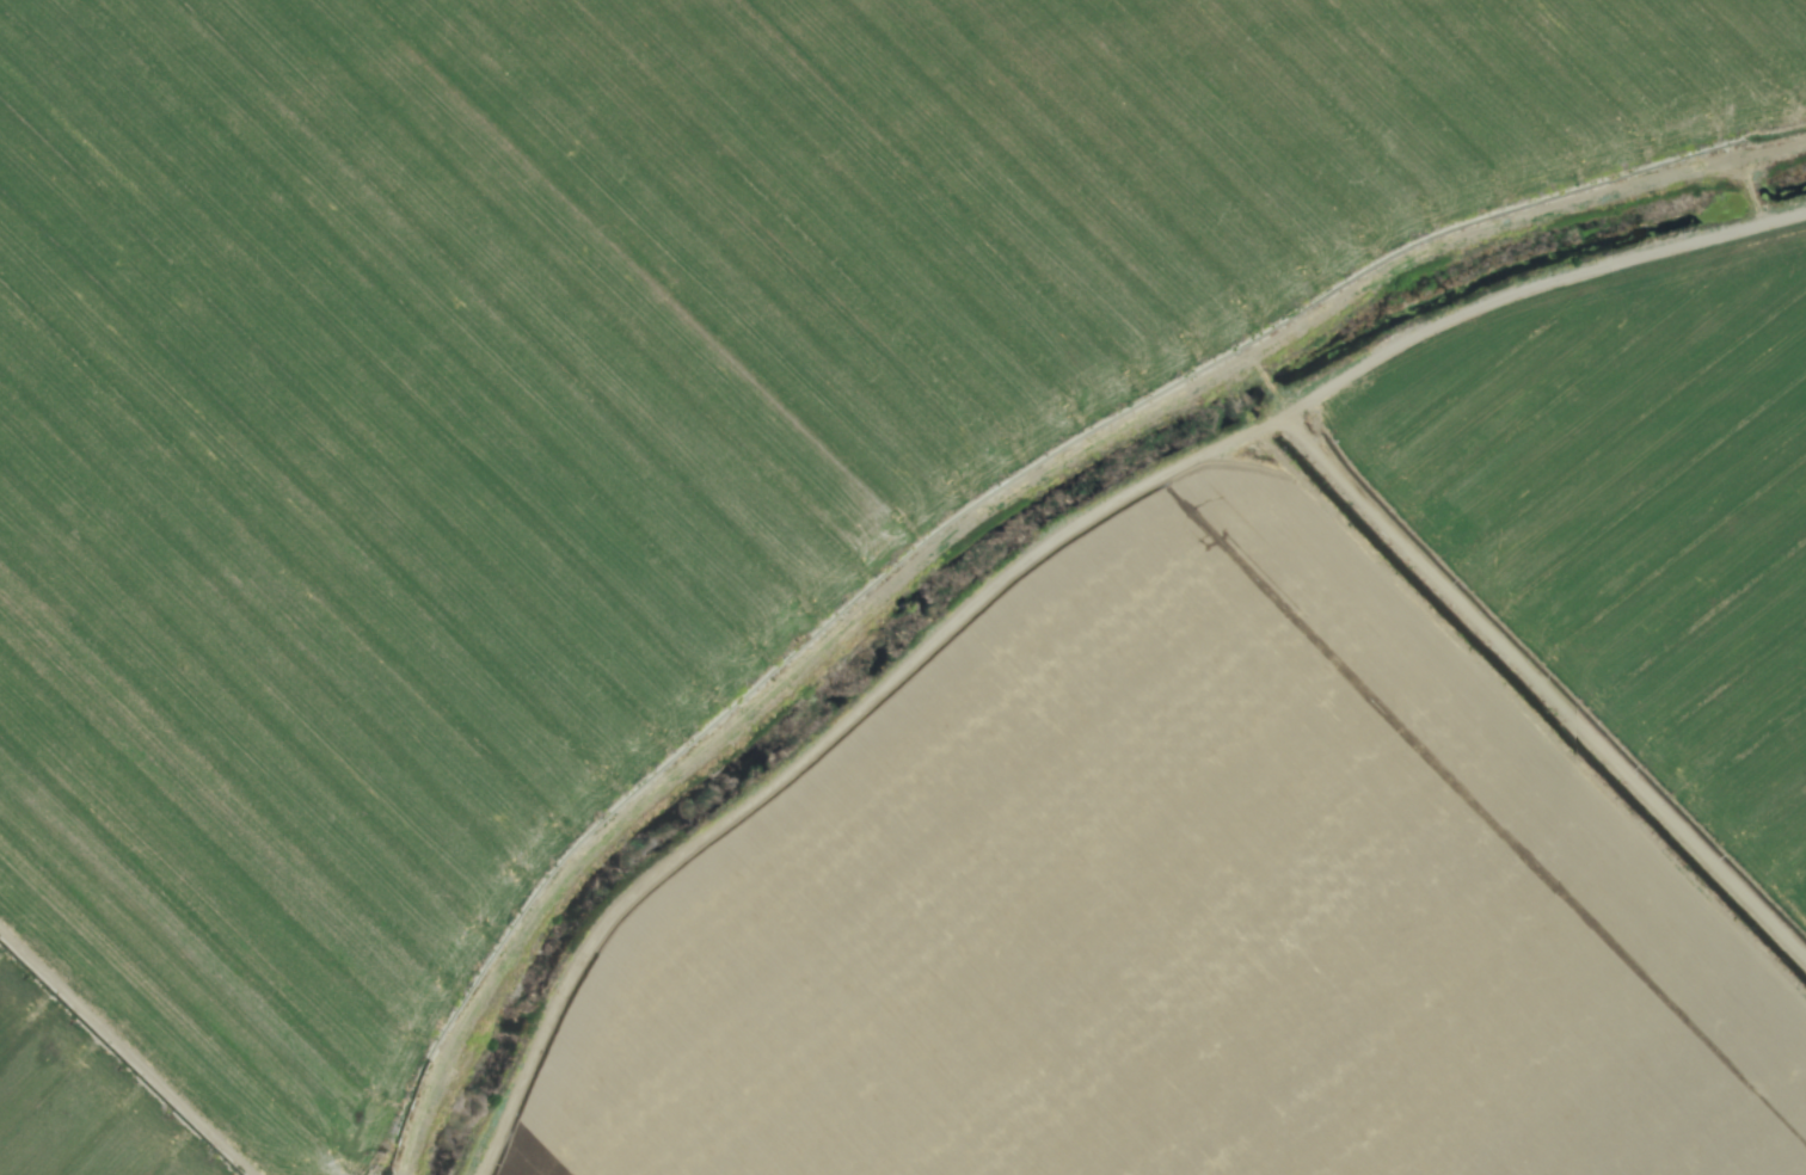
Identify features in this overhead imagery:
crop: (903, 587)

